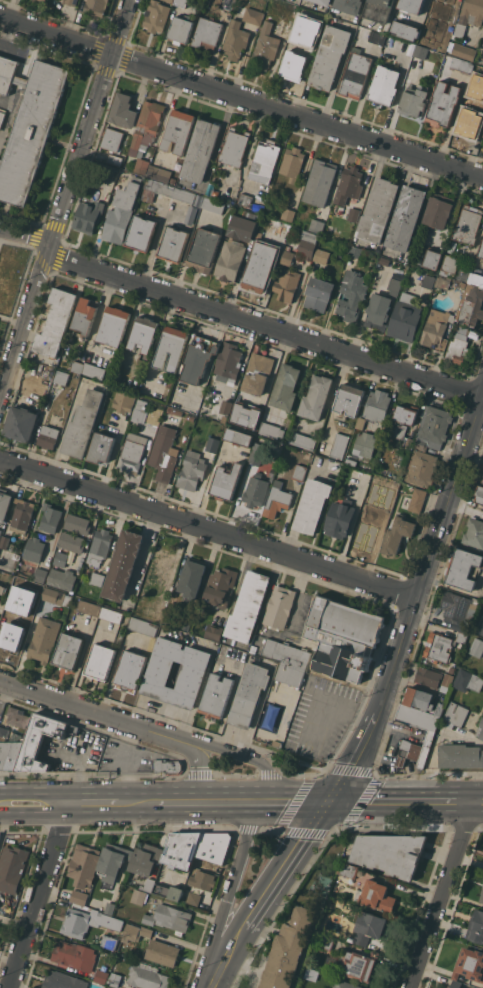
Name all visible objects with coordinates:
building: (35, 0)
building: (43, 0)
building: (169, 0)
building: (71, 2)
building: (181, 2)
building: (323, 2)
building: (228, 4)
building: (411, 5)
building: (349, 6)
building: (443, 6)
building: (96, 7)
building: (378, 9)
building: (250, 14)
building: (470, 15)
building: (156, 16)
building: (180, 30)
building: (404, 30)
building: (207, 33)
building: (364, 34)
building: (377, 37)
building: (315, 39)
building: (437, 39)
building: (235, 40)
building: (265, 43)
building: (463, 51)
building: (421, 52)
building: (330, 57)
building: (295, 62)
building: (463, 65)
building: (7, 74)
building: (355, 74)
building: (20, 81)
building: (384, 86)
road: (241, 97)
building: (413, 101)
building: (443, 104)
building: (123, 110)
building: (471, 115)
building: (2, 118)
building: (146, 128)
building: (31, 130)
building: (178, 131)
building: (112, 139)
building: (234, 147)
building: (200, 150)
building: (114, 159)
building: (1, 161)
building: (265, 161)
building: (292, 163)
building: (141, 166)
building: (109, 171)
building: (159, 173)
building: (320, 182)
building: (349, 185)
building: (156, 189)
building: (184, 195)
building: (245, 199)
road: (63, 200)
building: (213, 205)
building: (122, 210)
building: (378, 210)
building: (439, 210)
building: (88, 214)
building: (288, 214)
building: (353, 214)
building: (405, 217)
building: (182, 221)
building: (316, 225)
building: (468, 225)
building: (241, 228)
building: (141, 233)
building: (259, 236)
building: (173, 244)
building: (307, 244)
building: (204, 250)
building: (355, 251)
building: (481, 251)
building: (322, 256)
building: (288, 257)
building: (432, 258)
building: (230, 259)
building: (384, 261)
building: (450, 263)
building: (260, 266)
building: (399, 271)
building: (463, 273)
building: (476, 279)
building: (428, 281)
building: (443, 281)
building: (286, 283)
building: (394, 286)
building: (318, 294)
building: (352, 295)
building: (470, 304)
building: (378, 311)
building: (84, 315)
road: (238, 317)
building: (405, 318)
road: (12, 319)
building: (56, 322)
building: (114, 325)
building: (437, 329)
building: (144, 333)
building: (459, 346)
building: (172, 348)
building: (198, 359)
building: (228, 363)
building: (77, 366)
building: (93, 370)
building: (257, 373)
building: (62, 377)
building: (286, 387)
building: (316, 397)
building: (349, 400)
building: (123, 401)
building: (377, 405)
building: (226, 407)
building: (169, 410)
building: (177, 411)
building: (140, 412)
building: (245, 414)
building: (406, 414)
building: (155, 416)
building: (190, 417)
building: (21, 423)
building: (361, 423)
building: (83, 424)
building: (434, 427)
building: (271, 430)
building: (48, 436)
building: (238, 437)
building: (402, 437)
building: (303, 441)
building: (212, 444)
building: (339, 445)
building: (364, 445)
building: (101, 447)
building: (421, 447)
building: (132, 453)
building: (164, 453)
building: (257, 453)
building: (350, 461)
building: (421, 468)
building: (192, 470)
building: (299, 472)
building: (387, 472)
building: (226, 481)
building: (393, 486)
building: (255, 490)
building: (479, 494)
building: (277, 500)
building: (417, 500)
building: (4, 503)
building: (312, 506)
building: (22, 515)
building: (50, 518)
building: (339, 518)
building: (369, 522)
building: (77, 523)
road: (209, 529)
building: (0, 532)
building: (474, 532)
building: (397, 534)
building: (4, 542)
building: (71, 542)
building: (100, 545)
building: (34, 549)
building: (60, 558)
building: (123, 565)
building: (161, 565)
building: (463, 569)
building: (40, 575)
building: (192, 577)
building: (97, 578)
building: (62, 579)
building: (22, 586)
building: (219, 587)
building: (2, 589)
building: (53, 595)
building: (474, 601)
building: (248, 606)
building: (279, 606)
road: (415, 606)
building: (88, 607)
building: (457, 608)
building: (154, 610)
building: (111, 615)
building: (169, 617)
building: (186, 623)
building: (143, 626)
building: (481, 628)
building: (15, 629)
building: (214, 632)
building: (462, 636)
building: (343, 637)
building: (44, 639)
building: (438, 646)
building: (476, 647)
building: (68, 651)
building: (287, 660)
building: (101, 661)
building: (130, 670)
building: (192, 674)
building: (428, 676)
building: (447, 679)
building: (467, 680)
building: (249, 694)
building: (216, 696)
building: (418, 698)
road: (68, 703)
building: (440, 708)
building: (456, 714)
building: (18, 716)
building: (480, 730)
building: (430, 734)
building: (41, 740)
building: (276, 742)
road: (221, 749)
building: (10, 750)
road: (189, 750)
building: (460, 755)
building: (168, 766)
road: (401, 802)
road: (477, 802)
traffic signals: (331, 803)
road: (35, 804)
road: (94, 804)
road: (137, 804)
road: (178, 804)
road: (265, 804)
building: (0, 834)
building: (182, 849)
building: (212, 850)
building: (391, 853)
building: (146, 859)
building: (112, 860)
building: (84, 865)
building: (12, 868)
building: (349, 870)
building: (203, 880)
building: (148, 884)
building: (167, 891)
road: (272, 894)
road: (231, 895)
building: (376, 895)
road: (440, 895)
road: (41, 896)
building: (138, 896)
building: (79, 897)
building: (482, 897)
building: (194, 898)
building: (109, 908)
building: (169, 917)
building: (88, 922)
building: (368, 927)
building: (476, 927)
building: (146, 931)
building: (131, 933)
building: (109, 941)
building: (326, 942)
building: (288, 949)
building: (162, 952)
building: (75, 955)
building: (359, 964)
building: (469, 964)
building: (101, 976)
building: (147, 976)
building: (114, 979)
building: (63, 980)
building: (345, 984)
building: (456, 984)
building: (106, 987)
building: (107, 987)

